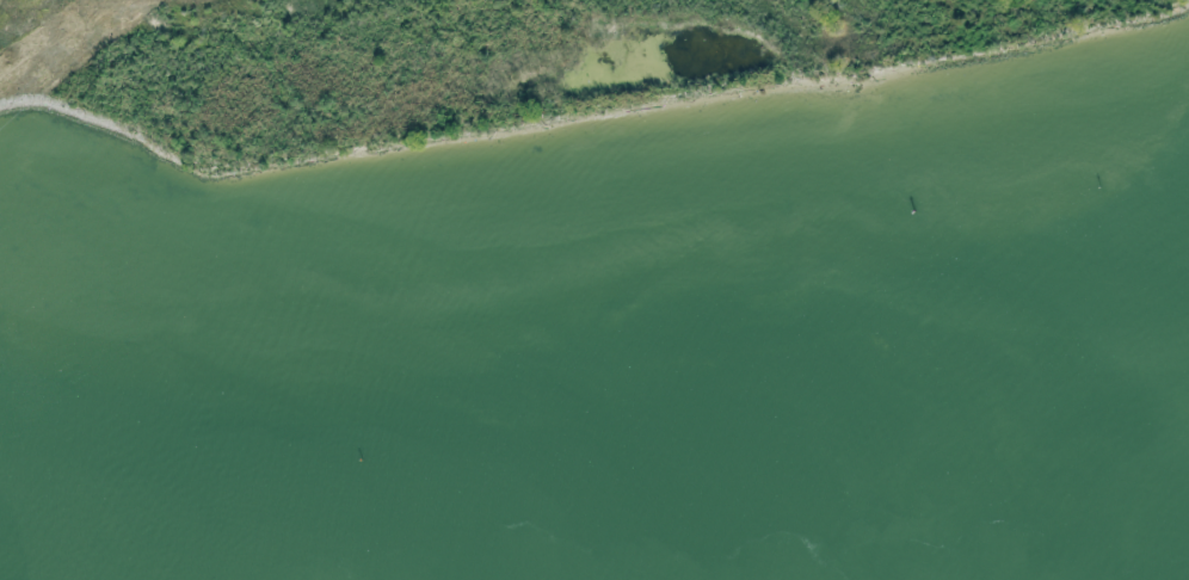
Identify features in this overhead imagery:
landfill: (468, 74)

